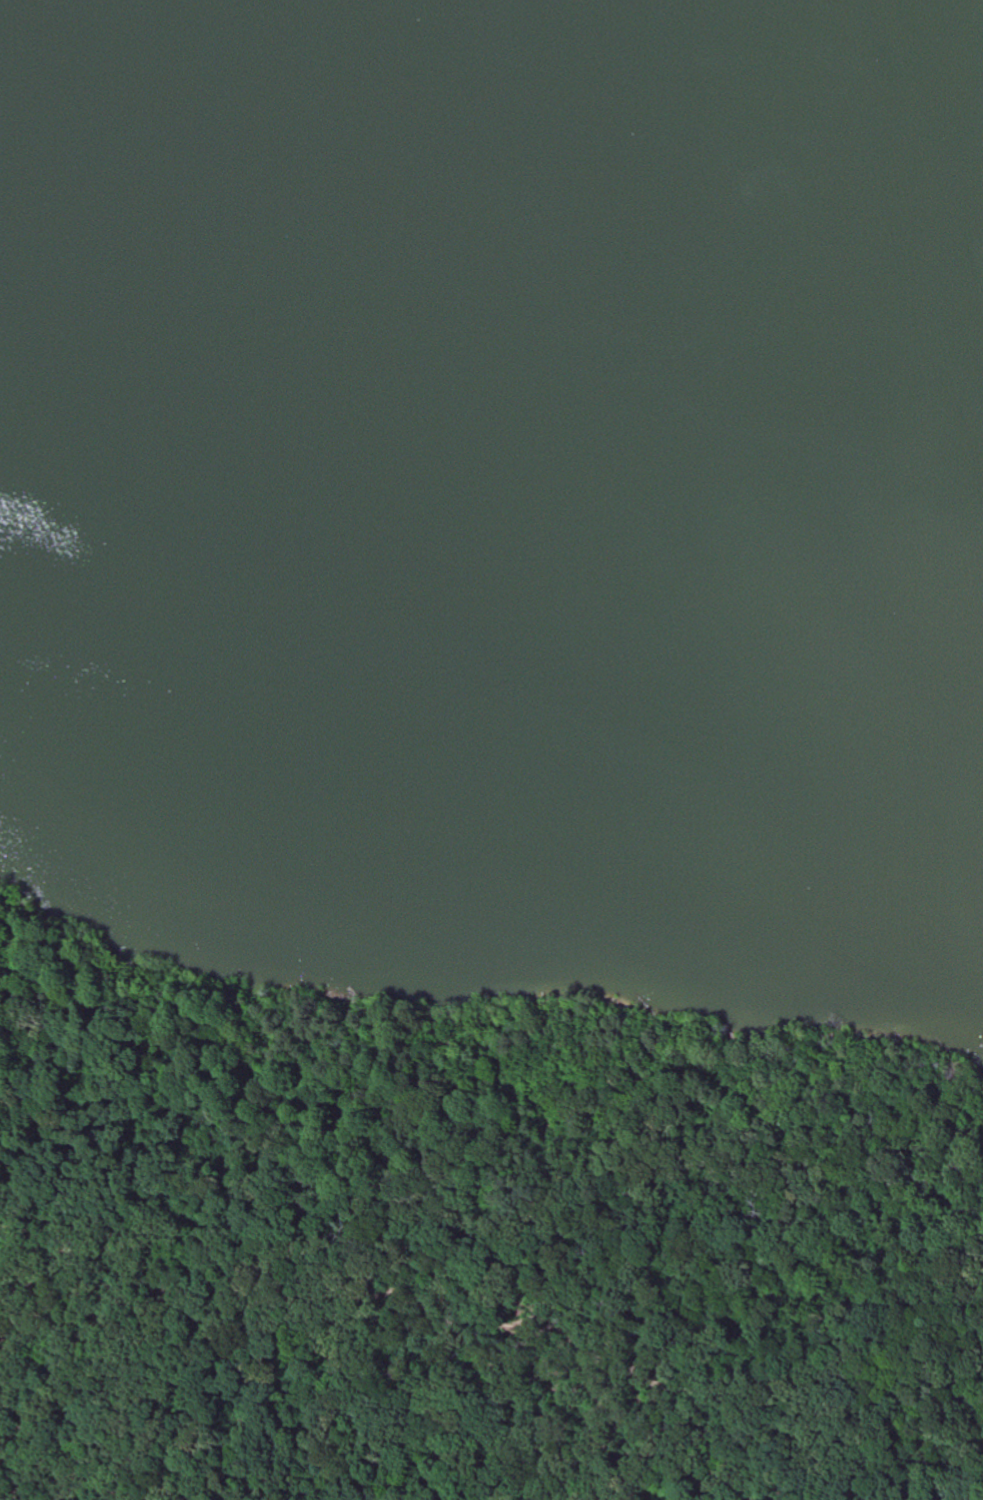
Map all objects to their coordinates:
road: (434, 1313)

